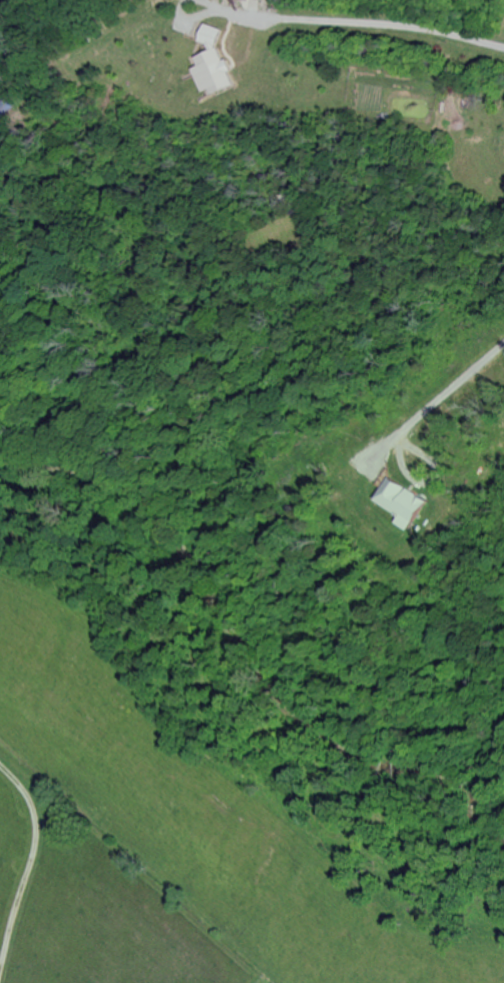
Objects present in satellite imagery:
building: (262, 0)
road: (185, 10)
road: (361, 23)
building: (209, 34)
building: (217, 73)
road: (449, 389)
road: (429, 481)
building: (403, 502)
road: (29, 868)

